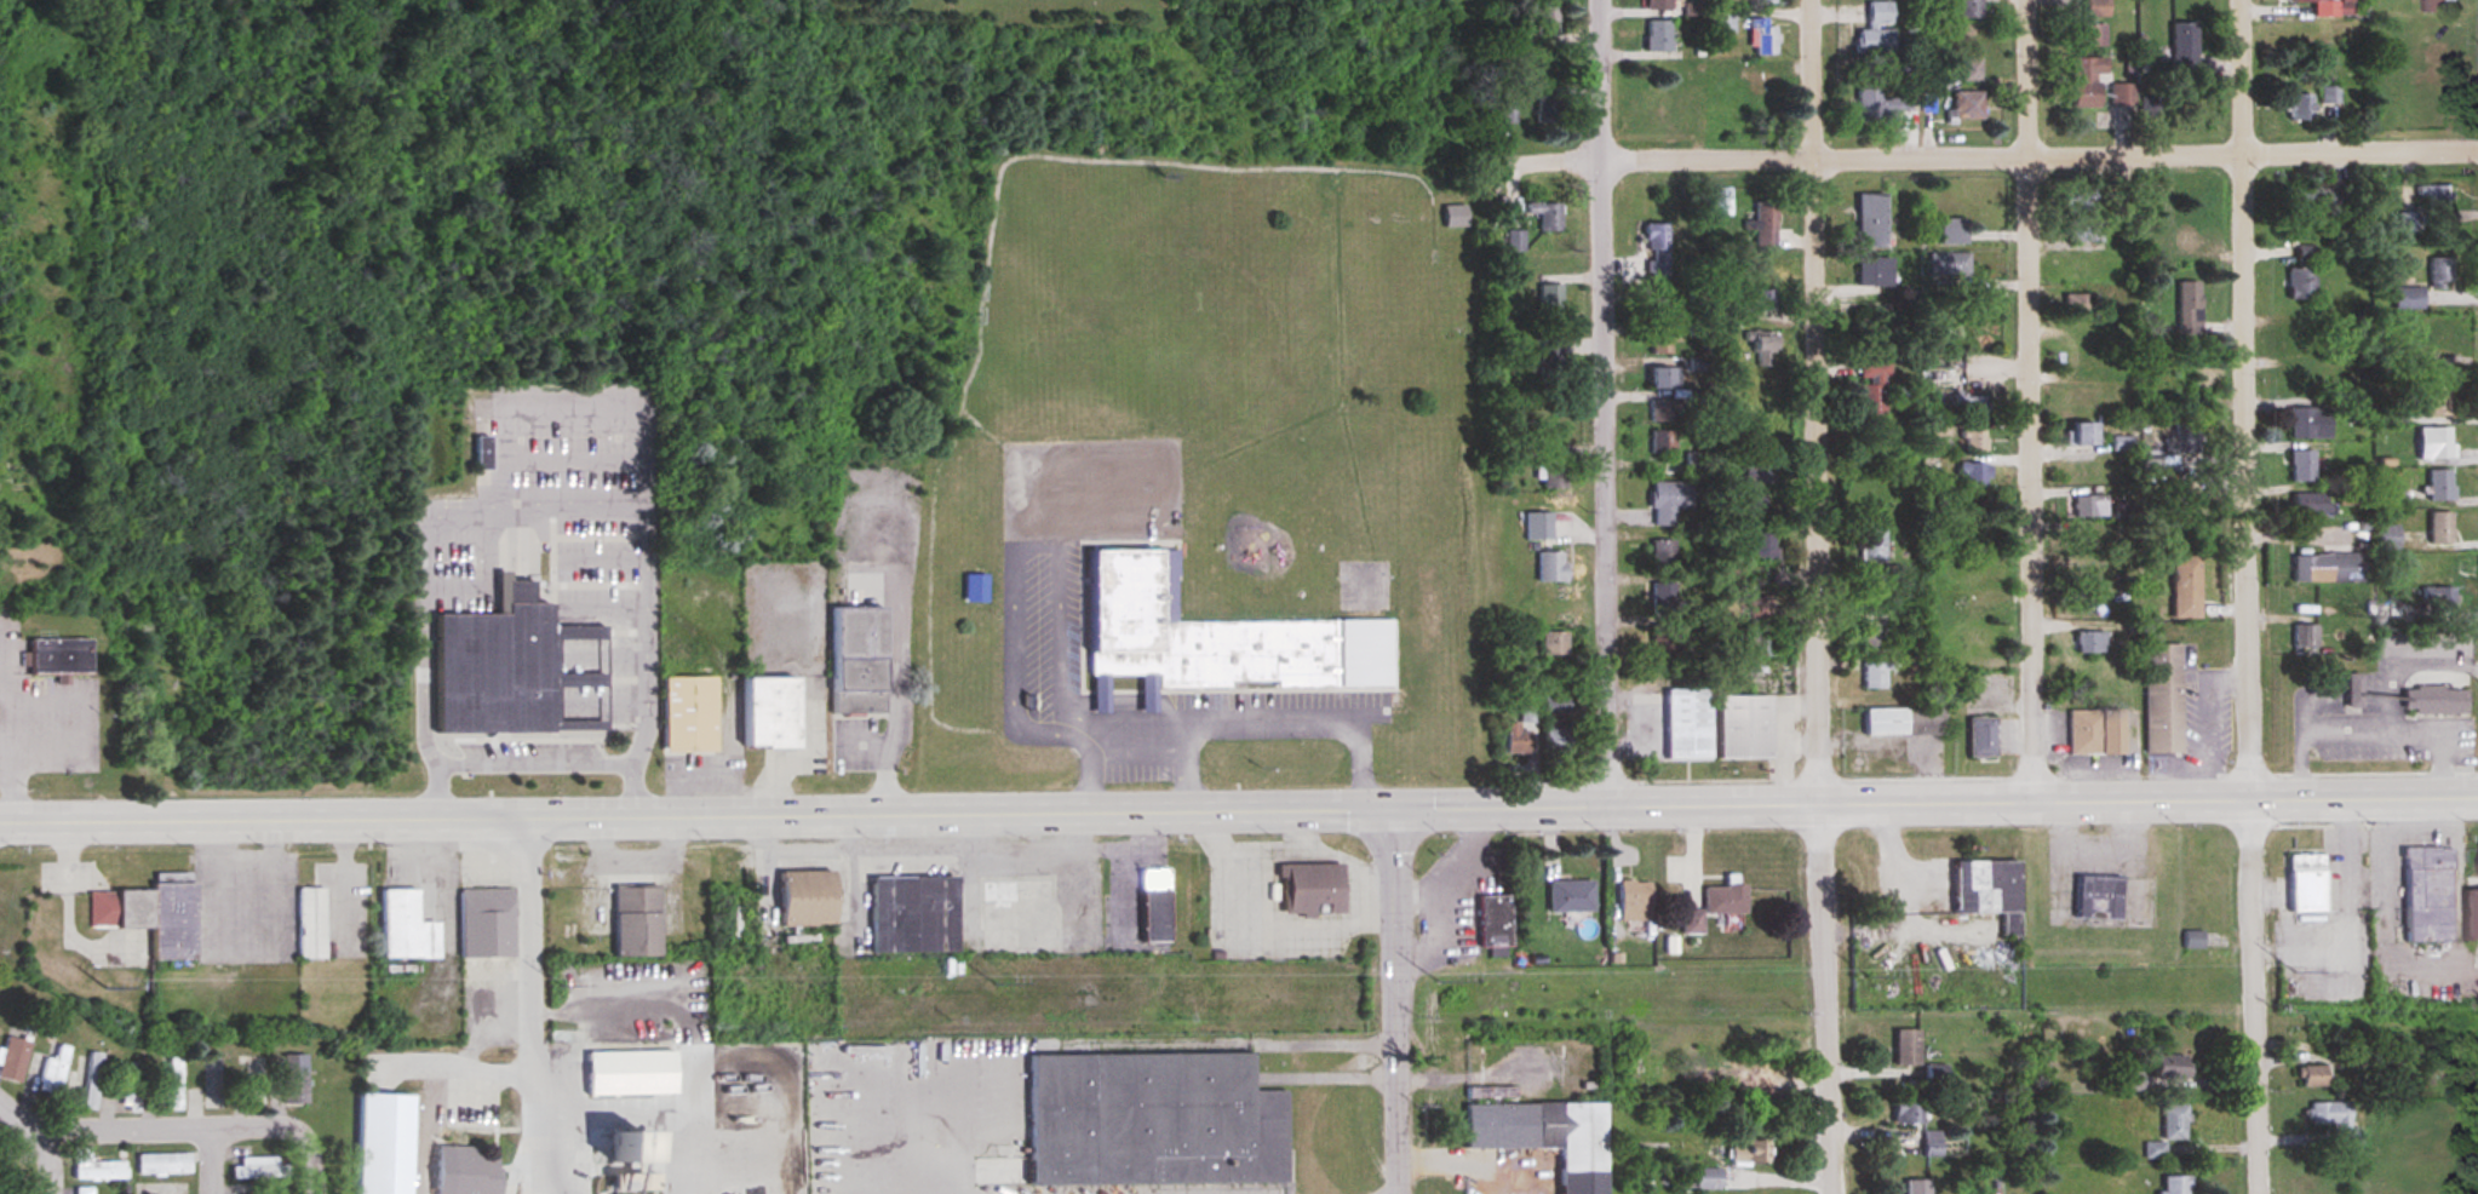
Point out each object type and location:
building: (1763, 1)
building: (2311, 1)
building: (1656, 4)
building: (2434, 6)
building: (2096, 7)
building: (1967, 8)
building: (1544, 21)
building: (1722, 22)
building: (1876, 30)
building: (1657, 35)
building: (2084, 35)
building: (1763, 38)
building: (2182, 50)
building: (1968, 68)
building: (2436, 68)
building: (1737, 69)
building: (2084, 80)
building: (2122, 92)
building: (1766, 96)
building: (2329, 96)
building: (1878, 105)
building: (1967, 107)
building: (2298, 107)
building: (1550, 109)
building: (1657, 109)
road: (1979, 159)
building: (2436, 196)
building: (2312, 199)
building: (1721, 201)
building: (2077, 202)
building: (1547, 216)
building: (1455, 217)
building: (1870, 220)
building: (2408, 222)
building: (1765, 225)
building: (2084, 229)
building: (1952, 231)
building: (1515, 241)
building: (2179, 243)
building: (1657, 252)
building: (2305, 254)
building: (1950, 264)
building: (2081, 268)
building: (2439, 272)
building: (1876, 274)
building: (2300, 283)
building: (1550, 298)
building: (2407, 298)
building: (1757, 299)
building: (2080, 305)
building: (2187, 309)
building: (2081, 338)
building: (1662, 344)
building: (1762, 350)
building: (1549, 358)
building: (1663, 378)
building: (2300, 380)
building: (1874, 388)
building: (2083, 398)
road: (2036, 400)
building: (2434, 400)
road: (1610, 402)
building: (1973, 404)
building: (1662, 411)
building: (2308, 423)
building: (2083, 434)
building: (1975, 440)
building: (2184, 440)
building: (1662, 441)
building: (2433, 443)
building: (2123, 444)
building: (478, 453)
building: (2301, 465)
building: (1553, 472)
building: (1974, 473)
building: (1754, 483)
building: (2440, 484)
building: (2348, 496)
building: (1668, 501)
building: (2307, 504)
building: (2089, 506)
building: (2187, 506)
road: (472, 507)
building: (2440, 527)
building: (2387, 536)
building: (2087, 540)
building: (1759, 544)
road: (1049, 545)
building: (1872, 546)
building: (1663, 557)
building: (1549, 566)
building: (2327, 568)
building: (1892, 574)
building: (2089, 574)
building: (1975, 576)
building: (2185, 589)
road: (1822, 597)
road: (2250, 597)
building: (2438, 599)
building: (1663, 601)
building: (1757, 608)
building: (1183, 637)
building: (2305, 637)
building: (1663, 641)
building: (1728, 641)
building: (1972, 642)
building: (1553, 643)
building: (1877, 643)
building: (2092, 643)
building: (1757, 645)
building: (57, 656)
building: (855, 661)
building: (515, 670)
building: (1876, 676)
building: (2382, 693)
building: (2163, 699)
building: (2434, 701)
building: (767, 713)
building: (687, 714)
building: (1904, 723)
building: (1687, 725)
building: (1742, 728)
road: (643, 731)
road: (1301, 731)
building: (1521, 731)
building: (2084, 733)
building: (2112, 735)
building: (1555, 736)
building: (1980, 736)
road: (712, 762)
road: (796, 762)
road: (533, 763)
road: (15, 769)
road: (630, 791)
road: (1935, 802)
traffic signals: (1394, 808)
road: (696, 815)
road: (638, 853)
building: (2307, 884)
building: (1309, 890)
building: (1987, 890)
building: (1570, 896)
building: (2427, 896)
building: (2098, 897)
building: (803, 899)
building: (1153, 899)
building: (1723, 900)
building: (1634, 902)
building: (911, 915)
building: (150, 917)
building: (2471, 917)
building: (1493, 920)
building: (633, 922)
building: (484, 923)
building: (1692, 923)
building: (310, 924)
building: (405, 928)
road: (1398, 1000)
road: (532, 1006)
building: (1905, 1047)
building: (16, 1060)
road: (471, 1066)
building: (2169, 1068)
building: (1772, 1070)
building: (56, 1073)
building: (629, 1073)
building: (1934, 1074)
building: (2311, 1077)
building: (94, 1080)
building: (131, 1080)
building: (260, 1081)
building: (2130, 1083)
building: (178, 1084)
building: (218, 1086)
road: (642, 1112)
building: (1905, 1112)
road: (24, 1120)
building: (1152, 1121)
building: (2336, 1123)
road: (180, 1127)
building: (2168, 1130)
building: (1545, 1137)
building: (1932, 1143)
building: (384, 1144)
building: (619, 1149)
building: (1750, 1153)
building: (167, 1164)
road: (326, 1164)
road: (224, 1165)
road: (46, 1166)
building: (99, 1166)
building: (265, 1169)
building: (469, 1171)
building: (15, 1178)
building: (1705, 1178)
building: (635, 1182)
building: (2174, 1184)
building: (1915, 1187)
building: (245, 1189)
building: (86, 1190)

